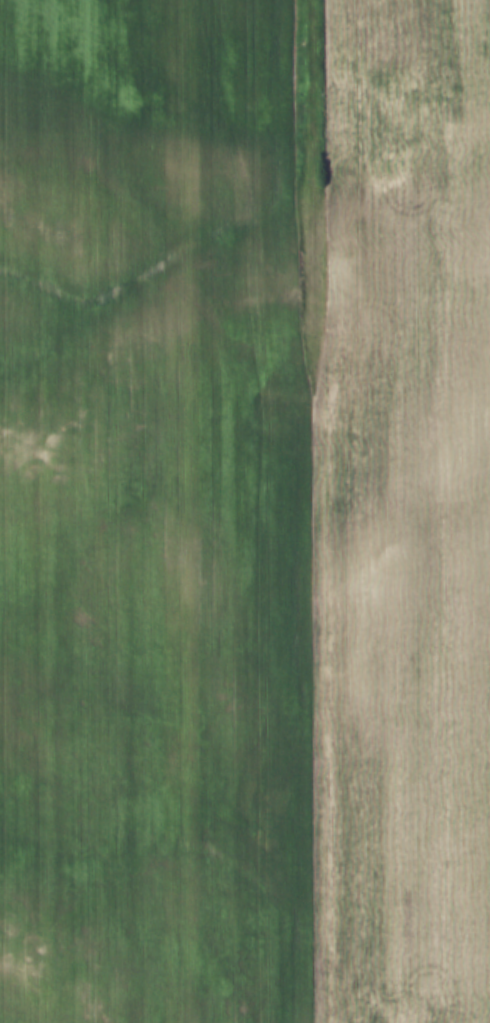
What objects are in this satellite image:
road: (310, 511)

